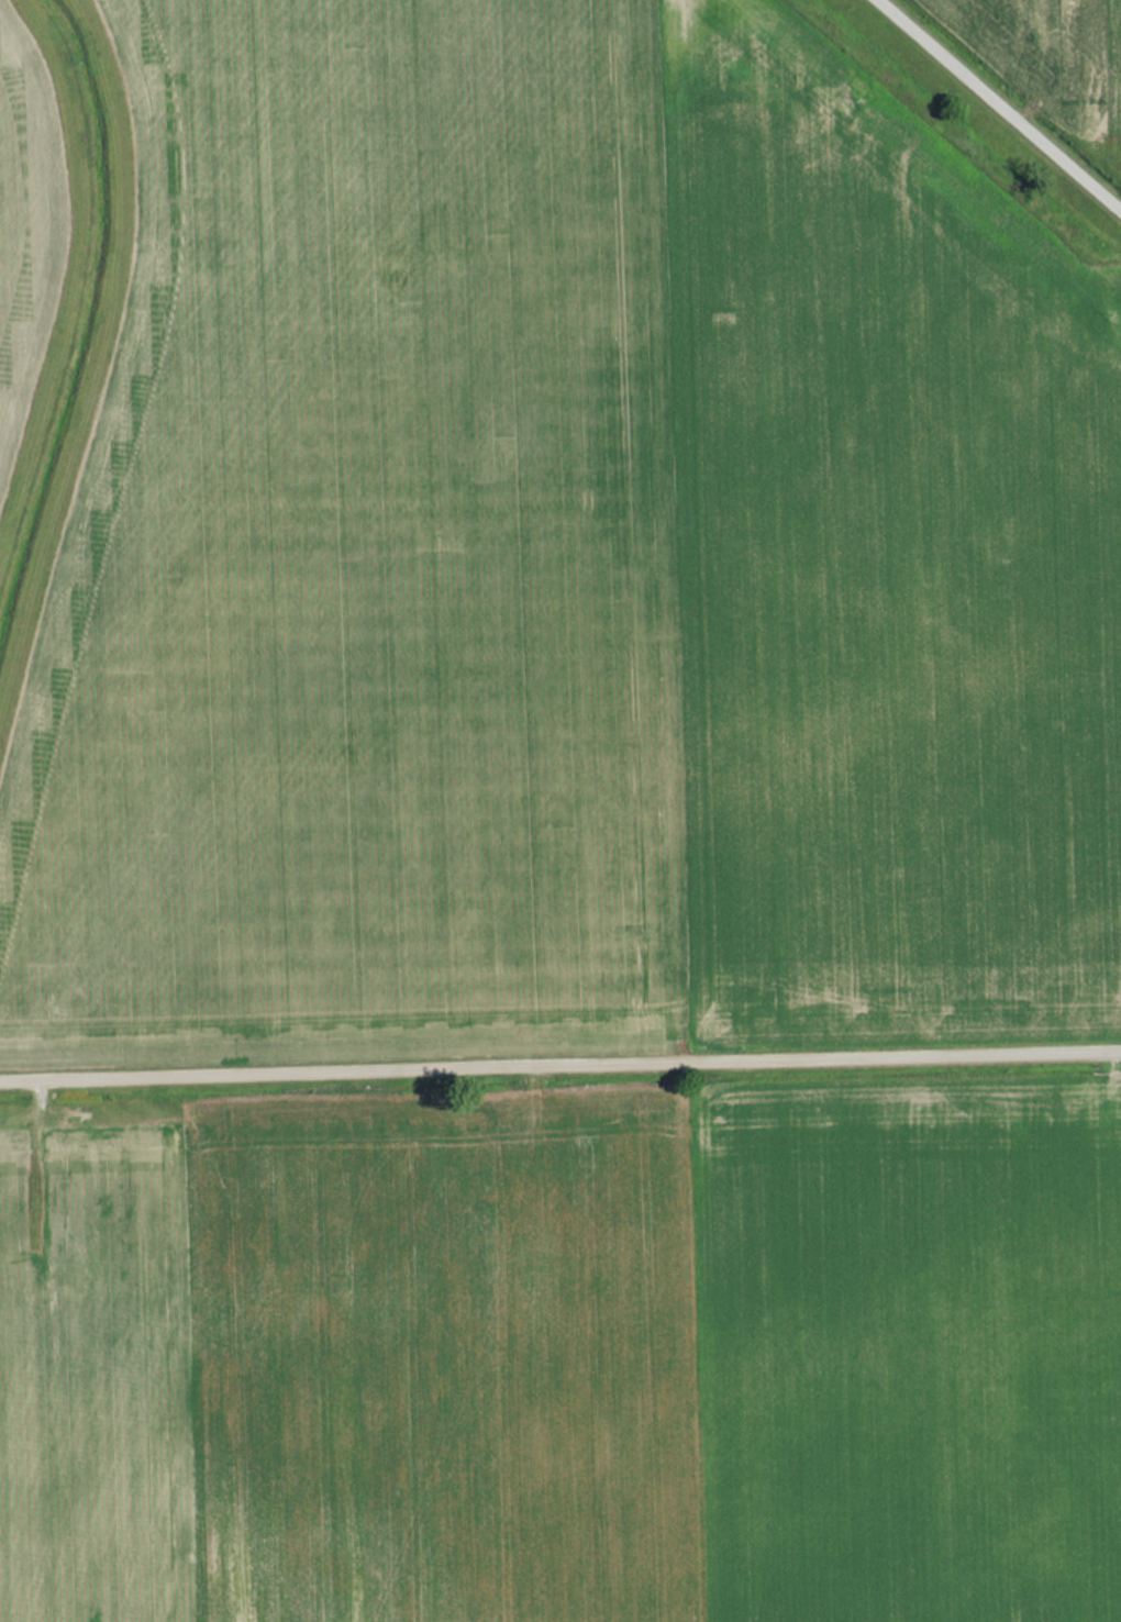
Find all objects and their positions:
crop: (1118, 46)
crop: (1057, 47)
road: (1001, 103)
railway: (955, 142)
crop: (25, 219)
crop: (567, 552)
road: (559, 1059)
crop: (910, 1358)
crop: (351, 1369)

